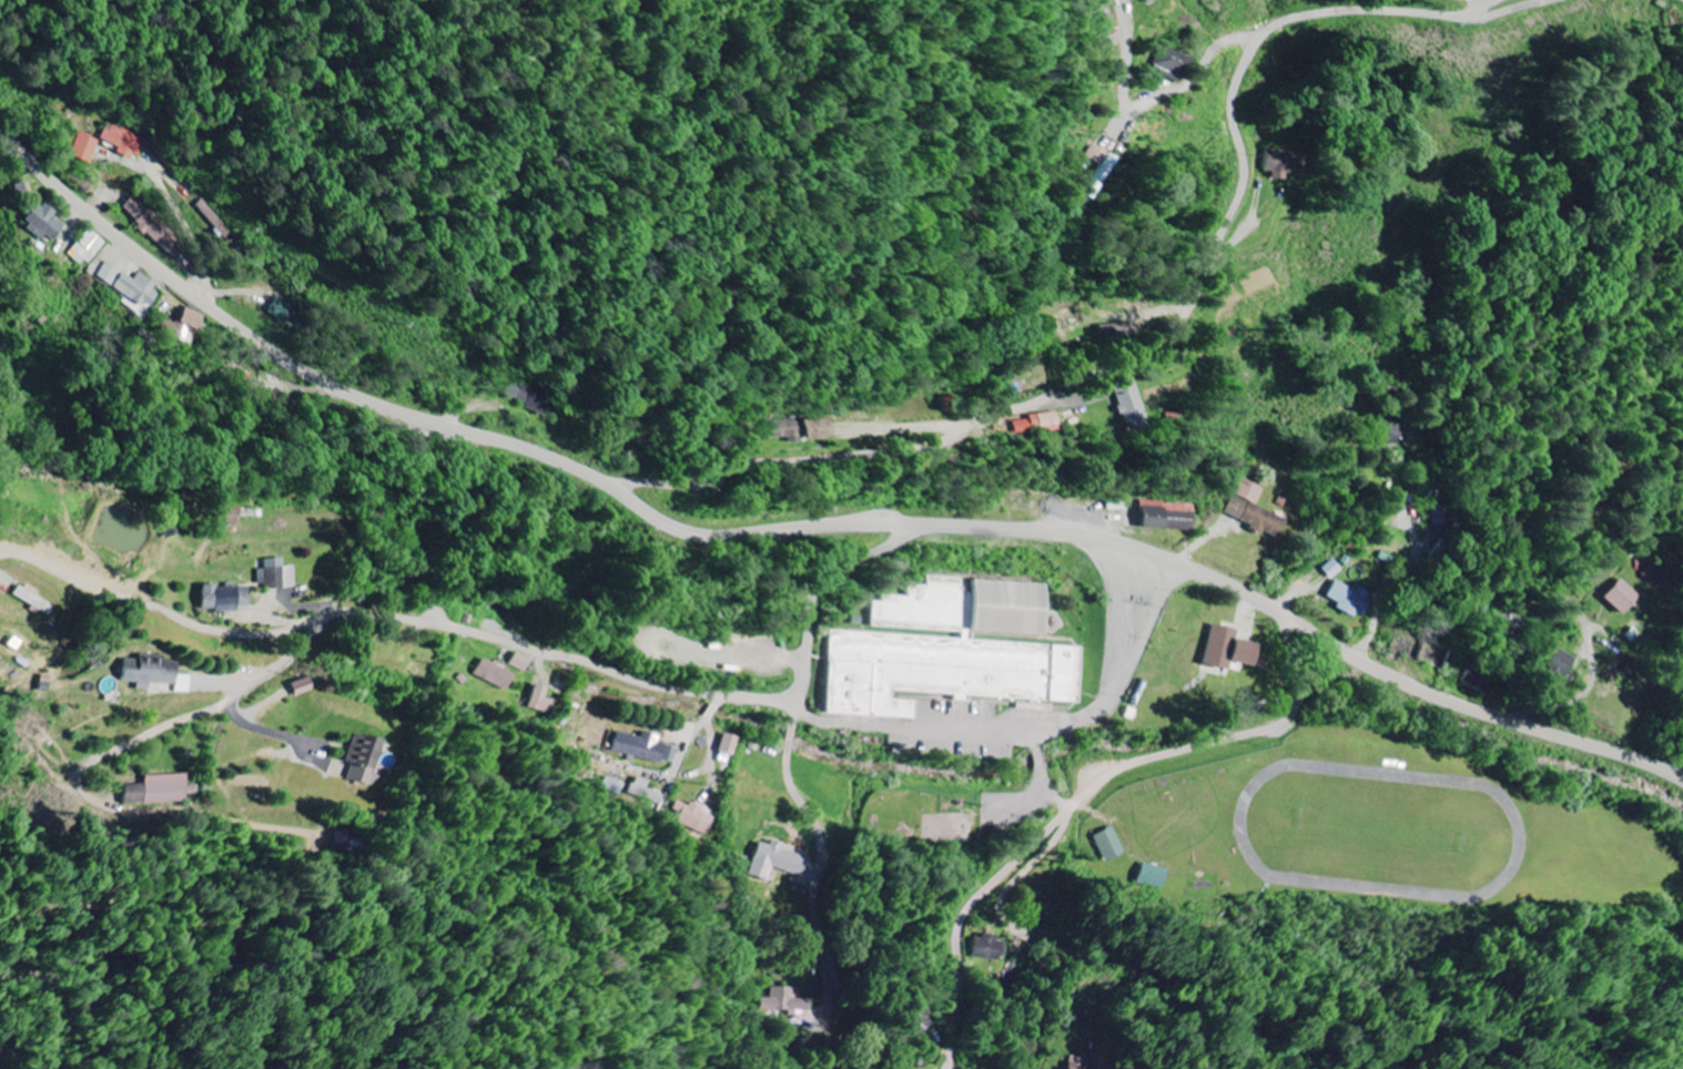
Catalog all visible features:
building: (1147, 1)
road: (1517, 11)
building: (1169, 65)
road: (1199, 69)
building: (121, 140)
building: (79, 149)
building: (1278, 164)
building: (1097, 170)
building: (212, 218)
building: (38, 222)
building: (149, 225)
road: (190, 233)
building: (82, 248)
building: (124, 287)
building: (277, 309)
building: (178, 326)
road: (1156, 346)
building: (528, 396)
building: (1127, 403)
building: (1033, 424)
building: (797, 430)
building: (1386, 432)
road: (604, 482)
building: (1253, 511)
building: (1166, 517)
building: (1329, 570)
road: (1401, 573)
building: (276, 576)
road: (823, 583)
building: (1619, 597)
building: (30, 600)
building: (222, 600)
building: (1346, 600)
road: (396, 618)
building: (1223, 650)
building: (946, 651)
building: (1557, 661)
building: (518, 663)
building: (150, 674)
building: (493, 675)
building: (1473, 681)
building: (300, 688)
road: (1572, 701)
building: (538, 702)
road: (1478, 712)
building: (726, 745)
building: (641, 749)
building: (362, 760)
building: (156, 791)
road: (1085, 792)
building: (643, 793)
building: (692, 817)
building: (1107, 845)
road: (824, 858)
building: (773, 862)
building: (985, 949)
building: (911, 1020)

